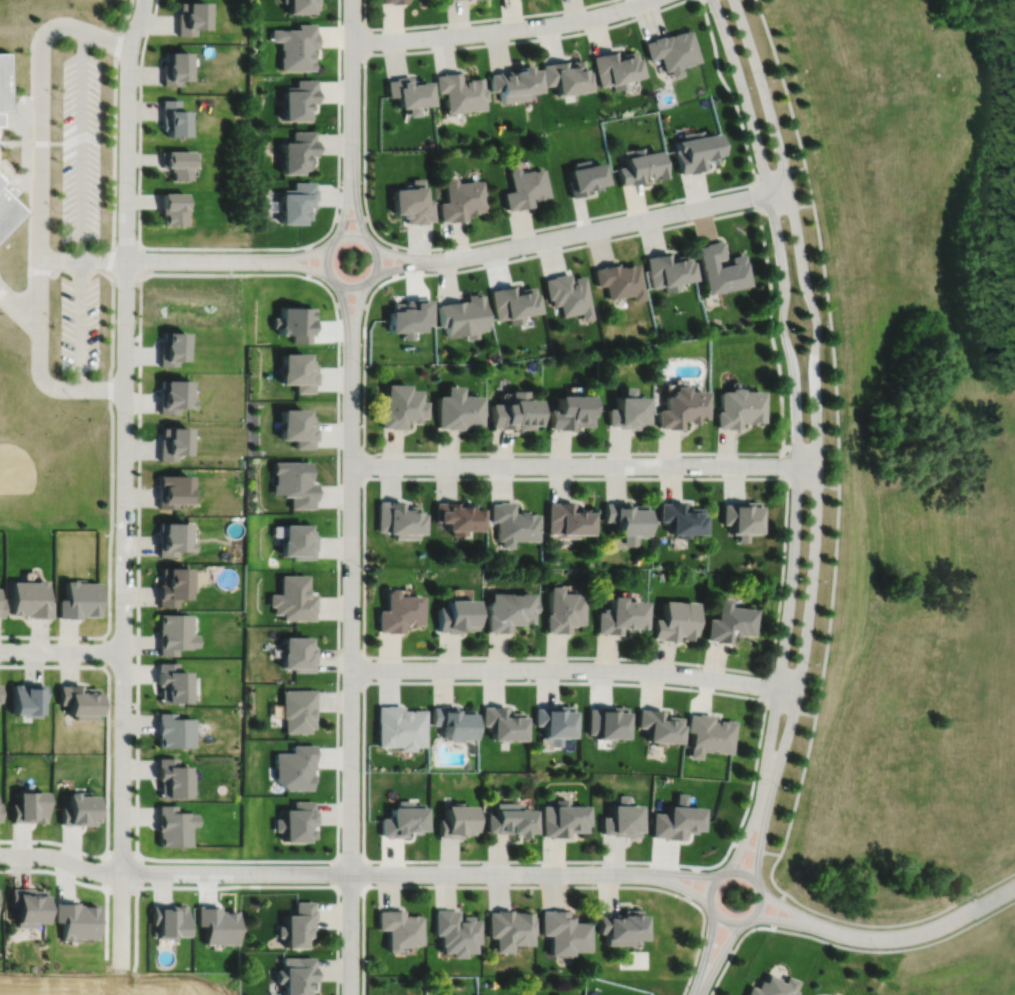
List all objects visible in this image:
building: (457, 0)
building: (393, 1)
building: (301, 4)
road: (572, 8)
street lamp: (712, 15)
building: (191, 16)
road: (126, 17)
street lamp: (342, 19)
street lamp: (625, 19)
street lamp: (90, 21)
road: (436, 24)
street lamp: (442, 26)
road: (503, 30)
road: (38, 31)
road: (340, 33)
street lamp: (536, 36)
road: (365, 39)
road: (108, 41)
building: (296, 44)
road: (430, 49)
building: (672, 49)
building: (175, 66)
building: (616, 66)
building: (567, 74)
road: (352, 76)
street lamp: (768, 78)
building: (4, 80)
building: (515, 81)
street lamp: (735, 87)
building: (408, 90)
building: (460, 90)
road: (730, 91)
street lamp: (138, 93)
street lamp: (57, 97)
street lamp: (102, 98)
building: (299, 98)
building: (1, 116)
building: (172, 117)
road: (16, 119)
road: (41, 124)
road: (30, 131)
road: (55, 142)
road: (15, 143)
road: (80, 146)
parking lot: (80, 148)
building: (696, 149)
building: (298, 150)
street lamp: (361, 151)
street lamp: (787, 152)
road: (114, 153)
building: (176, 161)
road: (30, 162)
building: (640, 165)
road: (780, 172)
building: (585, 176)
road: (12, 179)
building: (526, 187)
street lamp: (136, 189)
road: (347, 196)
road: (356, 197)
road: (755, 197)
building: (461, 198)
building: (297, 200)
building: (413, 201)
building: (7, 204)
road: (139, 206)
building: (172, 207)
road: (788, 209)
street lamp: (55, 211)
street lamp: (102, 212)
road: (763, 213)
street lamp: (692, 220)
street lamp: (768, 221)
road: (624, 224)
road: (554, 225)
road: (30, 226)
street lamp: (562, 226)
street lamp: (333, 232)
street lamp: (372, 233)
road: (370, 243)
street lamp: (162, 251)
road: (290, 255)
road: (414, 256)
road: (83, 259)
road: (188, 260)
road: (395, 261)
road: (309, 262)
road: (290, 265)
road: (417, 266)
building: (721, 268)
road: (71, 270)
street lamp: (427, 270)
building: (669, 270)
street lamp: (262, 271)
building: (619, 280)
road: (3, 283)
street lamp: (374, 286)
road: (40, 287)
street lamp: (332, 289)
road: (3, 290)
road: (25, 290)
building: (569, 295)
building: (515, 302)
road: (351, 303)
road: (17, 308)
building: (411, 316)
building: (464, 316)
road: (346, 319)
road: (356, 319)
street lamp: (54, 321)
street lamp: (101, 322)
road: (80, 323)
parking lot: (79, 324)
street lamp: (822, 325)
street lamp: (779, 329)
street lamp: (136, 331)
road: (772, 335)
building: (172, 347)
street lamp: (361, 365)
road: (40, 366)
building: (298, 371)
road: (364, 382)
road: (102, 388)
building: (173, 395)
street lamp: (73, 398)
building: (402, 406)
building: (682, 408)
building: (739, 408)
building: (459, 409)
building: (627, 411)
building: (514, 412)
building: (570, 412)
street lamp: (135, 420)
building: (298, 427)
street lamp: (824, 430)
road: (797, 435)
road: (817, 437)
building: (172, 442)
road: (810, 448)
road: (838, 448)
park: (904, 453)
street lamp: (342, 455)
street lamp: (429, 455)
street lamp: (655, 456)
park: (38, 464)
road: (364, 465)
road: (584, 465)
road: (782, 465)
street lamp: (542, 475)
road: (364, 477)
road: (124, 483)
building: (295, 483)
road: (813, 484)
building: (173, 490)
street lamp: (790, 491)
road: (111, 506)
street lamp: (135, 515)
building: (459, 517)
building: (681, 519)
building: (743, 519)
building: (399, 520)
building: (567, 521)
building: (626, 521)
building: (513, 524)
building: (172, 539)
building: (298, 542)
street lamp: (361, 568)
road: (783, 575)
street lamp: (786, 578)
street lamp: (819, 581)
building: (173, 586)
building: (30, 599)
building: (294, 599)
building: (78, 601)
building: (1, 608)
street lamp: (134, 610)
building: (563, 611)
building: (508, 612)
building: (400, 613)
building: (456, 616)
building: (619, 617)
building: (675, 623)
building: (729, 623)
building: (174, 634)
street lamp: (52, 640)
road: (61, 650)
road: (104, 651)
building: (297, 655)
street lamp: (431, 660)
street lamp: (643, 663)
road: (686, 663)
street lamp: (810, 665)
road: (363, 669)
road: (574, 669)
road: (796, 673)
road: (351, 676)
street lamp: (528, 679)
road: (500, 682)
building: (0, 684)
building: (172, 684)
street lamp: (341, 684)
road: (769, 687)
building: (0, 692)
street lamp: (753, 695)
building: (28, 699)
building: (79, 701)
street lamp: (113, 704)
road: (790, 710)
building: (298, 711)
building: (452, 724)
building: (554, 724)
building: (606, 724)
building: (502, 725)
building: (659, 728)
building: (400, 729)
building: (173, 732)
building: (709, 736)
road: (108, 762)
building: (295, 768)
street lamp: (360, 772)
building: (172, 780)
street lamp: (757, 783)
street lamp: (779, 787)
road: (750, 796)
street lamp: (132, 799)
building: (30, 805)
building: (80, 808)
building: (0, 810)
building: (563, 816)
building: (400, 817)
building: (509, 817)
building: (621, 817)
building: (676, 817)
building: (295, 819)
building: (454, 819)
building: (172, 824)
street lamp: (50, 846)
road: (756, 848)
street lamp: (341, 849)
road: (122, 852)
street lamp: (730, 856)
road: (219, 859)
road: (507, 861)
street lamp: (427, 863)
street lamp: (645, 864)
road: (140, 871)
road: (104, 872)
road: (317, 872)
road: (678, 873)
road: (747, 874)
street lamp: (147, 881)
road: (692, 882)
street lamp: (259, 883)
street lamp: (536, 883)
road: (86, 884)
road: (675, 884)
road: (252, 885)
road: (363, 885)
road: (472, 886)
road: (122, 890)
street lamp: (776, 892)
street lamp: (980, 893)
building: (29, 905)
road: (777, 909)
road: (793, 910)
building: (167, 918)
building: (77, 919)
building: (216, 922)
building: (297, 922)
road: (788, 922)
road: (902, 923)
building: (620, 925)
building: (397, 926)
building: (508, 927)
building: (562, 930)
road: (926, 930)
building: (453, 931)
street lamp: (739, 936)
road: (699, 944)
road: (716, 945)
street lamp: (878, 948)
road: (897, 949)
road: (733, 950)
road: (705, 953)
street lamp: (112, 955)
street lamp: (360, 958)
road: (718, 958)
building: (296, 974)
building: (774, 986)
building: (556, 994)

